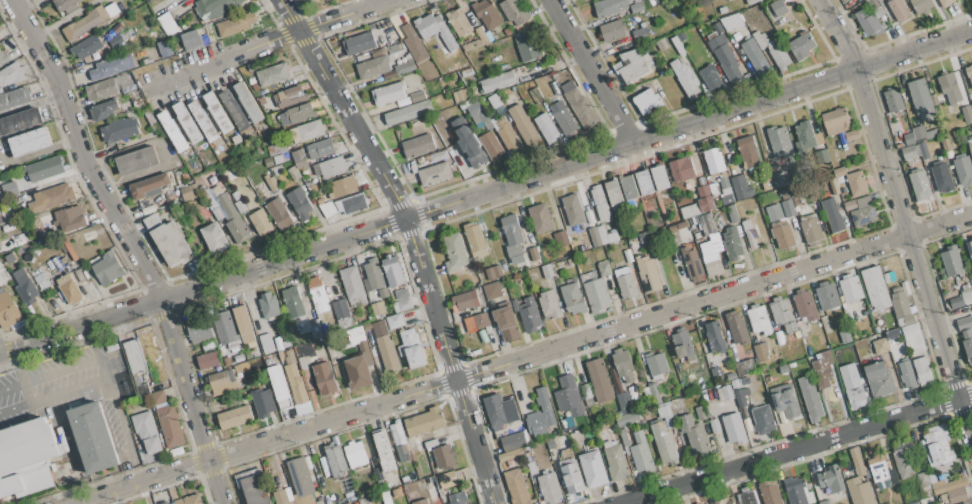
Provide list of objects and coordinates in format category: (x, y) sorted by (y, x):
building: (728, 0)
building: (842, 0)
building: (968, 0)
building: (651, 1)
building: (752, 1)
building: (944, 2)
building: (65, 5)
building: (873, 5)
building: (922, 6)
building: (609, 7)
building: (637, 7)
building: (215, 8)
building: (778, 8)
building: (722, 10)
building: (899, 10)
building: (514, 12)
building: (487, 13)
building: (89, 21)
building: (459, 22)
building: (732, 22)
building: (868, 23)
building: (235, 25)
building: (717, 28)
building: (435, 29)
building: (612, 31)
building: (640, 32)
building: (484, 35)
building: (190, 39)
road: (277, 39)
building: (760, 39)
building: (116, 41)
building: (359, 43)
building: (414, 44)
building: (661, 44)
building: (471, 45)
building: (677, 45)
building: (801, 45)
building: (87, 47)
building: (165, 48)
building: (528, 48)
building: (395, 49)
building: (778, 53)
building: (754, 54)
building: (4, 58)
building: (727, 62)
building: (632, 65)
building: (251, 67)
building: (373, 67)
building: (111, 68)
building: (405, 68)
road: (592, 71)
building: (467, 72)
building: (969, 73)
building: (273, 74)
building: (10, 75)
building: (686, 78)
building: (711, 78)
building: (252, 80)
building: (498, 82)
building: (110, 87)
building: (255, 87)
building: (950, 88)
building: (389, 93)
building: (460, 95)
building: (536, 95)
building: (417, 96)
building: (290, 97)
building: (14, 99)
building: (920, 99)
building: (262, 100)
building: (893, 100)
building: (495, 101)
building: (646, 101)
building: (248, 102)
building: (404, 102)
road: (31, 104)
building: (579, 105)
building: (971, 108)
building: (103, 110)
building: (235, 110)
building: (218, 112)
building: (407, 113)
building: (477, 113)
building: (967, 113)
building: (298, 115)
building: (562, 117)
building: (150, 118)
building: (204, 120)
building: (20, 121)
building: (835, 121)
building: (188, 123)
building: (523, 124)
building: (546, 127)
building: (119, 130)
building: (311, 130)
building: (173, 131)
building: (447, 135)
building: (508, 135)
building: (852, 135)
building: (919, 135)
building: (805, 138)
building: (29, 142)
building: (780, 142)
building: (468, 144)
building: (418, 146)
building: (491, 146)
building: (970, 147)
building: (277, 148)
building: (321, 148)
building: (915, 151)
building: (749, 152)
building: (294, 153)
building: (439, 156)
building: (279, 159)
building: (713, 160)
building: (137, 161)
building: (300, 161)
building: (826, 165)
building: (329, 168)
building: (44, 169)
building: (681, 169)
building: (963, 169)
building: (277, 170)
building: (839, 171)
building: (294, 173)
building: (435, 174)
building: (941, 177)
building: (779, 179)
building: (271, 182)
building: (310, 183)
building: (644, 183)
building: (661, 184)
building: (766, 184)
building: (857, 184)
building: (919, 184)
building: (149, 186)
building: (833, 186)
building: (343, 187)
building: (628, 187)
building: (741, 187)
building: (314, 188)
building: (713, 189)
building: (725, 190)
building: (794, 190)
building: (190, 192)
road: (486, 192)
building: (784, 193)
building: (613, 194)
road: (897, 196)
building: (51, 197)
building: (705, 199)
building: (300, 204)
building: (352, 204)
building: (600, 204)
building: (849, 205)
building: (241, 206)
building: (328, 208)
building: (788, 208)
building: (573, 209)
building: (690, 210)
building: (278, 211)
building: (863, 212)
building: (218, 213)
building: (732, 214)
building: (832, 214)
building: (676, 215)
building: (231, 216)
building: (590, 217)
building: (70, 218)
building: (540, 218)
building: (1, 220)
building: (695, 220)
building: (261, 222)
building: (707, 224)
building: (682, 225)
building: (780, 228)
building: (810, 229)
building: (606, 234)
building: (89, 235)
building: (697, 235)
building: (594, 236)
building: (751, 236)
building: (215, 237)
building: (513, 237)
building: (562, 238)
building: (645, 239)
road: (416, 240)
building: (475, 241)
building: (171, 242)
building: (731, 244)
road: (133, 245)
building: (706, 248)
building: (575, 249)
building: (970, 249)
building: (455, 252)
building: (534, 253)
building: (26, 257)
building: (10, 258)
building: (63, 260)
building: (571, 261)
building: (953, 261)
building: (560, 263)
building: (49, 264)
building: (57, 264)
building: (692, 264)
building: (713, 267)
building: (971, 267)
building: (603, 268)
building: (109, 269)
building: (393, 270)
building: (547, 271)
building: (493, 273)
building: (536, 273)
building: (374, 274)
building: (647, 274)
building: (2, 275)
building: (42, 281)
building: (626, 282)
building: (353, 286)
building: (875, 287)
building: (26, 288)
building: (850, 288)
building: (69, 289)
building: (334, 290)
building: (492, 291)
building: (595, 293)
building: (318, 294)
building: (827, 296)
building: (572, 298)
building: (962, 299)
building: (466, 300)
building: (293, 302)
building: (899, 303)
building: (549, 304)
building: (269, 305)
building: (402, 305)
building: (805, 305)
building: (379, 307)
building: (8, 310)
building: (343, 313)
building: (782, 313)
building: (528, 314)
building: (324, 317)
building: (242, 319)
building: (759, 319)
building: (482, 320)
building: (908, 320)
building: (395, 322)
building: (506, 323)
building: (964, 323)
building: (470, 324)
building: (737, 327)
building: (316, 329)
building: (199, 330)
building: (909, 330)
building: (226, 331)
building: (797, 334)
building: (715, 336)
building: (846, 336)
building: (409, 337)
building: (267, 343)
building: (287, 343)
building: (209, 344)
building: (967, 344)
building: (683, 345)
building: (880, 345)
building: (298, 350)
building: (760, 352)
building: (388, 353)
building: (413, 355)
building: (134, 356)
building: (207, 360)
building: (359, 360)
road: (524, 361)
building: (303, 363)
building: (656, 364)
building: (623, 365)
road: (15, 367)
building: (746, 367)
road: (108, 368)
building: (823, 369)
building: (922, 370)
building: (716, 373)
building: (906, 374)
building: (293, 376)
building: (731, 376)
building: (324, 377)
building: (222, 378)
building: (879, 379)
building: (136, 380)
building: (599, 380)
building: (616, 381)
building: (737, 383)
building: (280, 387)
parking lot: (72, 390)
building: (143, 390)
building: (586, 391)
road: (24, 393)
building: (653, 393)
building: (726, 393)
building: (855, 394)
building: (568, 397)
building: (741, 397)
building: (159, 398)
building: (810, 399)
building: (262, 402)
building: (624, 403)
building: (786, 403)
building: (499, 410)
building: (701, 413)
building: (541, 416)
road: (966, 416)
building: (234, 417)
building: (628, 419)
building: (762, 420)
building: (425, 422)
building: (566, 423)
building: (170, 426)
building: (715, 426)
building: (734, 428)
building: (147, 434)
building: (693, 434)
building: (665, 435)
building: (399, 436)
building: (94, 437)
building: (510, 440)
building: (431, 443)
building: (551, 444)
building: (938, 446)
road: (801, 449)
building: (385, 452)
building: (639, 452)
building: (356, 454)
building: (27, 457)
building: (445, 457)
building: (904, 459)
building: (336, 460)
building: (615, 460)
building: (532, 467)
building: (877, 467)
building: (593, 468)
building: (891, 472)
building: (379, 475)
building: (299, 478)
building: (572, 478)
building: (922, 478)
building: (831, 479)
building: (448, 480)
building: (948, 485)
building: (253, 486)
building: (517, 488)
building: (549, 488)
building: (795, 490)
building: (860, 491)
building: (770, 493)
building: (747, 496)
building: (955, 496)
building: (282, 497)
building: (333, 497)
building: (457, 498)
building: (189, 500)
building: (387, 501)
building: (421, 501)
building: (722, 501)
building: (164, 502)
building: (319, 502)
building: (825, 502)
building: (914, 502)
building: (888, 503)
building: (967, 503)

